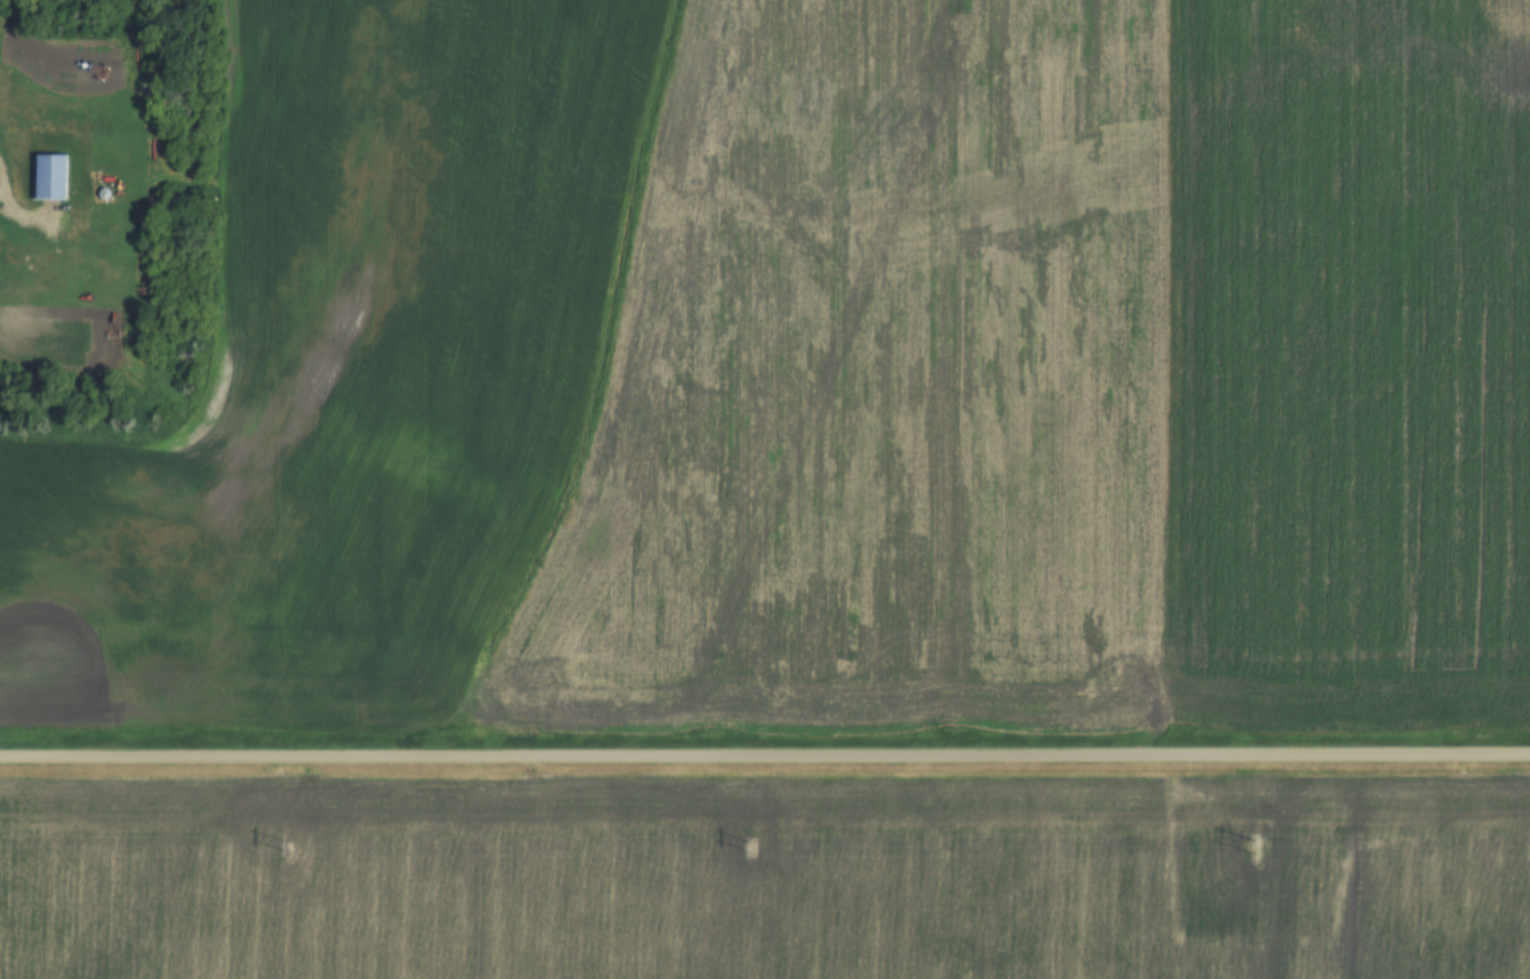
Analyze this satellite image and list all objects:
building: (54, 178)
road: (11, 180)
road: (764, 759)
power tower: (747, 846)
power tower: (1243, 846)
power tower: (283, 847)

